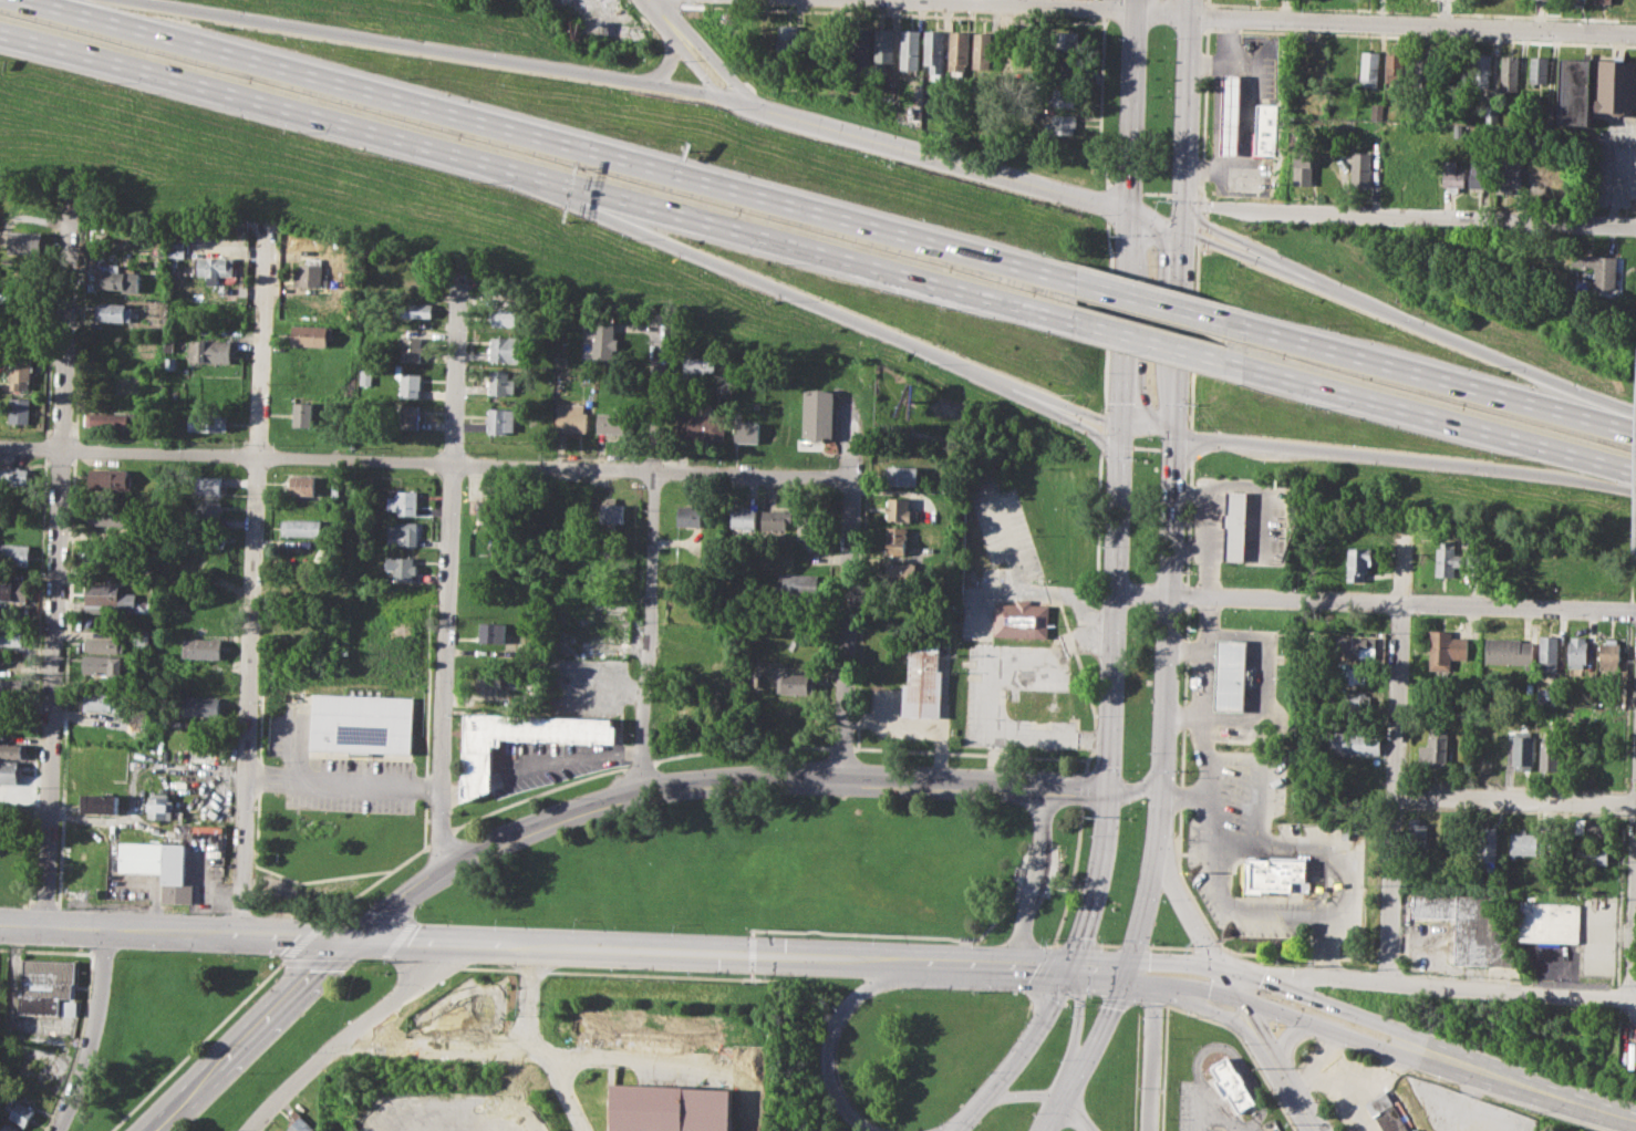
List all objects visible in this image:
building: (1578, 0)
building: (1542, 1)
building: (1605, 1)
road: (1208, 2)
road: (1104, 8)
road: (662, 14)
road: (1207, 15)
road: (1269, 17)
street lamp: (1212, 32)
street lamp: (1173, 37)
building: (788, 38)
street lamp: (1119, 38)
building: (764, 39)
road: (1228, 40)
building: (1065, 41)
building: (860, 45)
road: (432, 48)
building: (884, 48)
building: (983, 49)
building: (910, 50)
building: (959, 52)
building: (934, 53)
road: (711, 59)
road: (667, 61)
street lamp: (680, 61)
building: (1312, 62)
building: (1370, 66)
building: (1395, 68)
building: (1065, 69)
building: (1540, 69)
road: (700, 70)
building: (1344, 70)
building: (1423, 70)
building: (1480, 71)
building: (1511, 72)
building: (1616, 91)
building: (1065, 96)
road: (1100, 103)
road: (293, 108)
street lamp: (717, 108)
building: (1377, 110)
road: (1203, 112)
parking lot: (1241, 113)
park: (1158, 114)
building: (1230, 114)
gas station: (1230, 114)
building: (1492, 114)
road: (1184, 115)
road: (1245, 116)
building: (1062, 123)
building: (1387, 125)
street lamp: (1200, 126)
street lamp: (1145, 127)
building: (1263, 128)
road: (551, 139)
road: (932, 155)
parking lot: (1614, 163)
street lamp: (892, 164)
building: (1304, 166)
building: (1392, 166)
building: (1361, 168)
building: (1452, 174)
building: (1480, 174)
building: (1509, 175)
street lamp: (1112, 177)
road: (1108, 183)
road: (1126, 188)
road: (1156, 193)
road: (1183, 195)
road: (1200, 196)
street lamp: (1167, 203)
road: (1107, 204)
road: (1203, 204)
road: (1128, 210)
traffic signals: (1128, 212)
road: (1204, 212)
street lamp: (1084, 215)
road: (1408, 216)
road: (1201, 220)
road: (1153, 221)
road: (1198, 228)
traffic signals: (1180, 230)
road: (1197, 237)
road: (1233, 238)
building: (28, 243)
street lamp: (1150, 248)
road: (1233, 249)
building: (175, 252)
road: (830, 255)
street lamp: (1148, 264)
building: (211, 267)
building: (1602, 270)
building: (309, 274)
building: (115, 277)
street lamp: (1193, 279)
road: (794, 294)
road: (1161, 303)
building: (415, 310)
building: (114, 312)
road: (1108, 315)
building: (508, 317)
road: (1177, 332)
building: (310, 334)
road: (1193, 335)
building: (603, 339)
road: (1453, 341)
road: (1157, 342)
building: (411, 349)
building: (506, 349)
building: (208, 351)
building: (169, 363)
building: (698, 364)
building: (20, 371)
street lamp: (1105, 372)
road: (1429, 374)
building: (365, 376)
building: (408, 382)
building: (501, 382)
road: (1064, 403)
building: (20, 409)
street lamp: (1193, 409)
building: (819, 413)
building: (302, 414)
building: (410, 416)
building: (572, 416)
road: (1063, 416)
road: (1104, 418)
building: (114, 419)
building: (501, 419)
road: (1439, 419)
building: (207, 422)
traffic signals: (1119, 422)
building: (611, 423)
building: (701, 424)
road: (1625, 425)
road: (1104, 428)
building: (747, 432)
road: (1118, 435)
traffic signals: (1174, 435)
street lamp: (1158, 439)
road: (1101, 440)
road: (1190, 444)
road: (852, 449)
road: (1377, 455)
road: (425, 461)
street lamp: (1132, 464)
building: (14, 475)
building: (903, 475)
building: (111, 478)
building: (205, 484)
building: (303, 485)
building: (403, 502)
street lamp: (1185, 504)
building: (205, 508)
building: (898, 510)
building: (490, 511)
building: (610, 513)
building: (690, 515)
building: (106, 519)
building: (744, 521)
building: (776, 522)
road: (1188, 522)
building: (809, 523)
building: (1234, 525)
building: (301, 527)
building: (402, 533)
building: (207, 536)
road: (1006, 538)
building: (899, 542)
road: (1635, 542)
street lamp: (1100, 546)
building: (13, 553)
building: (1449, 558)
road: (650, 559)
building: (1357, 561)
building: (402, 567)
building: (901, 572)
street lamp: (1154, 572)
road: (252, 579)
road: (55, 581)
road: (448, 583)
building: (799, 583)
building: (14, 589)
road: (1633, 593)
road: (1187, 594)
building: (104, 598)
road: (1069, 598)
road: (1167, 602)
road: (1374, 603)
street lamp: (1193, 609)
parking lot: (976, 619)
building: (1022, 619)
road: (1116, 619)
road: (1085, 624)
road: (846, 630)
building: (494, 632)
street lamp: (1127, 632)
building: (142, 636)
building: (13, 637)
road: (982, 643)
building: (105, 644)
building: (203, 646)
building: (1359, 646)
building: (1445, 648)
road: (1185, 650)
building: (1508, 651)
building: (1577, 652)
building: (1549, 653)
building: (1608, 656)
building: (103, 664)
street lamp: (1180, 664)
building: (1352, 674)
building: (1231, 675)
gas station: (1231, 675)
road: (1262, 677)
building: (490, 679)
building: (922, 681)
building: (797, 683)
parking lot: (588, 685)
road: (608, 686)
building: (11, 687)
building: (1547, 695)
building: (101, 701)
building: (1355, 702)
building: (200, 705)
road: (1183, 714)
street lamp: (1093, 715)
road: (1202, 718)
building: (362, 722)
road: (1019, 733)
building: (1358, 741)
road: (841, 746)
building: (1436, 747)
road: (297, 748)
road: (741, 748)
building: (12, 749)
building: (1523, 749)
street lamp: (1146, 751)
road: (975, 753)
building: (1550, 753)
building: (1602, 753)
road: (994, 756)
road: (565, 758)
building: (477, 759)
road: (1395, 759)
parking lot: (553, 762)
road: (639, 764)
parking lot: (334, 768)
street lamp: (1121, 769)
traffic signals: (1163, 770)
street lamp: (1177, 770)
building: (9, 771)
road: (1181, 779)
road: (344, 781)
road: (676, 786)
park: (1133, 786)
road: (1138, 786)
road: (1084, 787)
road: (1076, 788)
traffic signals: (1109, 790)
road: (537, 793)
road: (1515, 800)
building: (99, 803)
building: (158, 806)
road: (1161, 811)
street lamp: (1085, 816)
road: (1042, 819)
building: (1592, 827)
building: (1418, 834)
road: (439, 837)
street lamp: (1173, 837)
building: (1528, 842)
building: (1487, 843)
building: (1593, 854)
building: (157, 865)
road: (1021, 865)
road: (1053, 865)
building: (1275, 874)
road: (1071, 875)
road: (1340, 876)
road: (376, 880)
road: (1096, 881)
building: (1588, 881)
road: (1053, 884)
road: (1032, 889)
street lamp: (1052, 890)
street lamp: (1162, 900)
road: (1026, 909)
road: (1188, 910)
road: (1142, 912)
street lamp: (418, 914)
street lamp: (498, 916)
street lamp: (1101, 916)
street lamp: (576, 920)
building: (1551, 922)
street lamp: (675, 923)
building: (1475, 925)
street lamp: (1213, 926)
street lamp: (777, 927)
road: (1634, 927)
road: (101, 930)
street lamp: (877, 932)
road: (895, 934)
street lamp: (976, 935)
street lamp: (1044, 935)
road: (276, 936)
street lamp: (1047, 938)
road: (303, 940)
street lamp: (1105, 940)
traffic signals: (349, 941)
road: (1327, 941)
street lamp: (1151, 943)
road: (436, 944)
road: (1078, 944)
street lamp: (1187, 944)
road: (1108, 945)
road: (1131, 945)
road: (1169, 946)
road: (1205, 946)
street lamp: (159, 951)
road: (750, 952)
road: (722, 953)
road: (1290, 954)
street lamp: (250, 955)
street lamp: (116, 956)
street lamp: (358, 962)
road: (964, 963)
road: (1170, 963)
road: (1038, 966)
traffic signals: (1216, 967)
traffic signals: (1067, 968)
road: (1096, 969)
traffic signals: (1125, 971)
street lamp: (277, 973)
road: (759, 978)
road: (525, 980)
road: (1139, 982)
street lamp: (393, 983)
building: (43, 985)
road: (1448, 986)
road: (1171, 989)
traffic signals: (1233, 995)
street lamp: (1090, 996)
road: (1235, 999)
street lamp: (1098, 1003)
street lamp: (835, 1004)
street lamp: (1067, 1004)
street lamp: (1137, 1005)
road: (1221, 1013)
road: (1040, 1014)
street lamp: (1189, 1016)
street lamp: (1141, 1017)
street lamp: (1026, 1020)
road: (1379, 1024)
road: (1077, 1025)
road: (1102, 1030)
road: (832, 1031)
road: (94, 1033)
road: (353, 1034)
road: (249, 1036)
road: (1284, 1039)
road: (1363, 1040)
street lamp: (1241, 1042)
road: (196, 1045)
road: (374, 1045)
street lamp: (1200, 1045)
road: (1223, 1045)
street lamp: (311, 1051)
road: (604, 1055)
street lamp: (1059, 1058)
road: (1152, 1059)
street lamp: (96, 1060)
street lamp: (987, 1070)
street lamp: (245, 1072)
road: (552, 1072)
street lamp: (1090, 1077)
road: (1286, 1082)
building: (1231, 1085)
street lamp: (1017, 1088)
street lamp: (1139, 1088)
road: (988, 1094)
road: (1021, 1094)
road: (1068, 1094)
road: (977, 1097)
road: (1587, 1107)
building: (670, 1108)
road: (1221, 1109)
street lamp: (832, 1110)
building: (19, 1111)
street lamp: (1033, 1112)
street lamp: (1285, 1112)
building: (1386, 1112)
road: (1055, 1117)
road: (1075, 1117)
street lamp: (941, 1121)
building: (301, 1125)
street lamp: (1210, 1125)
building: (8, 1127)
street lamp: (234, 1129)
building: (1415, 1129)
road: (1314, 1130)

